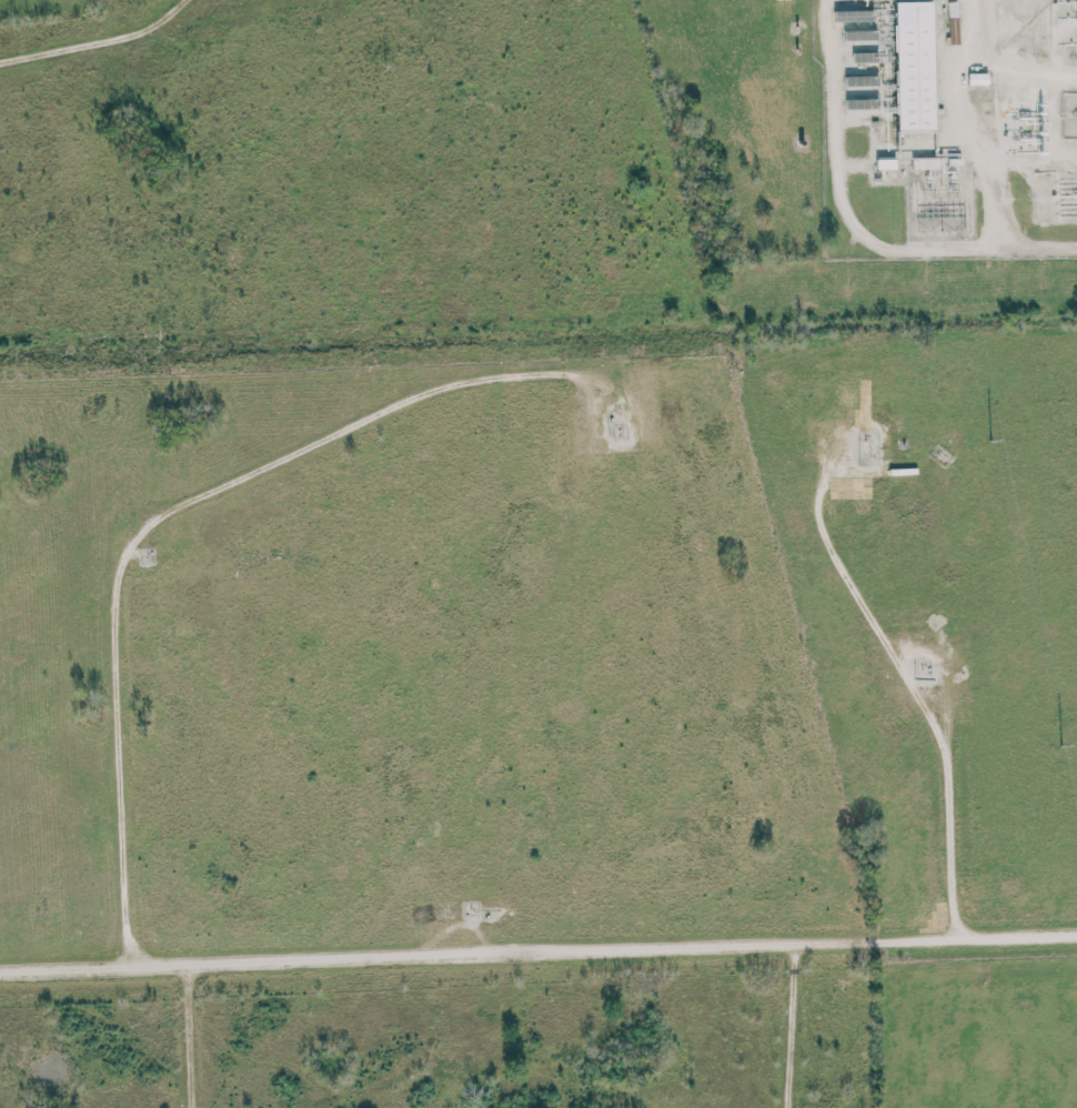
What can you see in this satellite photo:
road: (87, 37)
building: (914, 64)
building: (927, 162)
power substation: (940, 203)
road: (855, 225)
road: (155, 522)
road: (537, 951)
road: (791, 1025)
road: (187, 1037)

